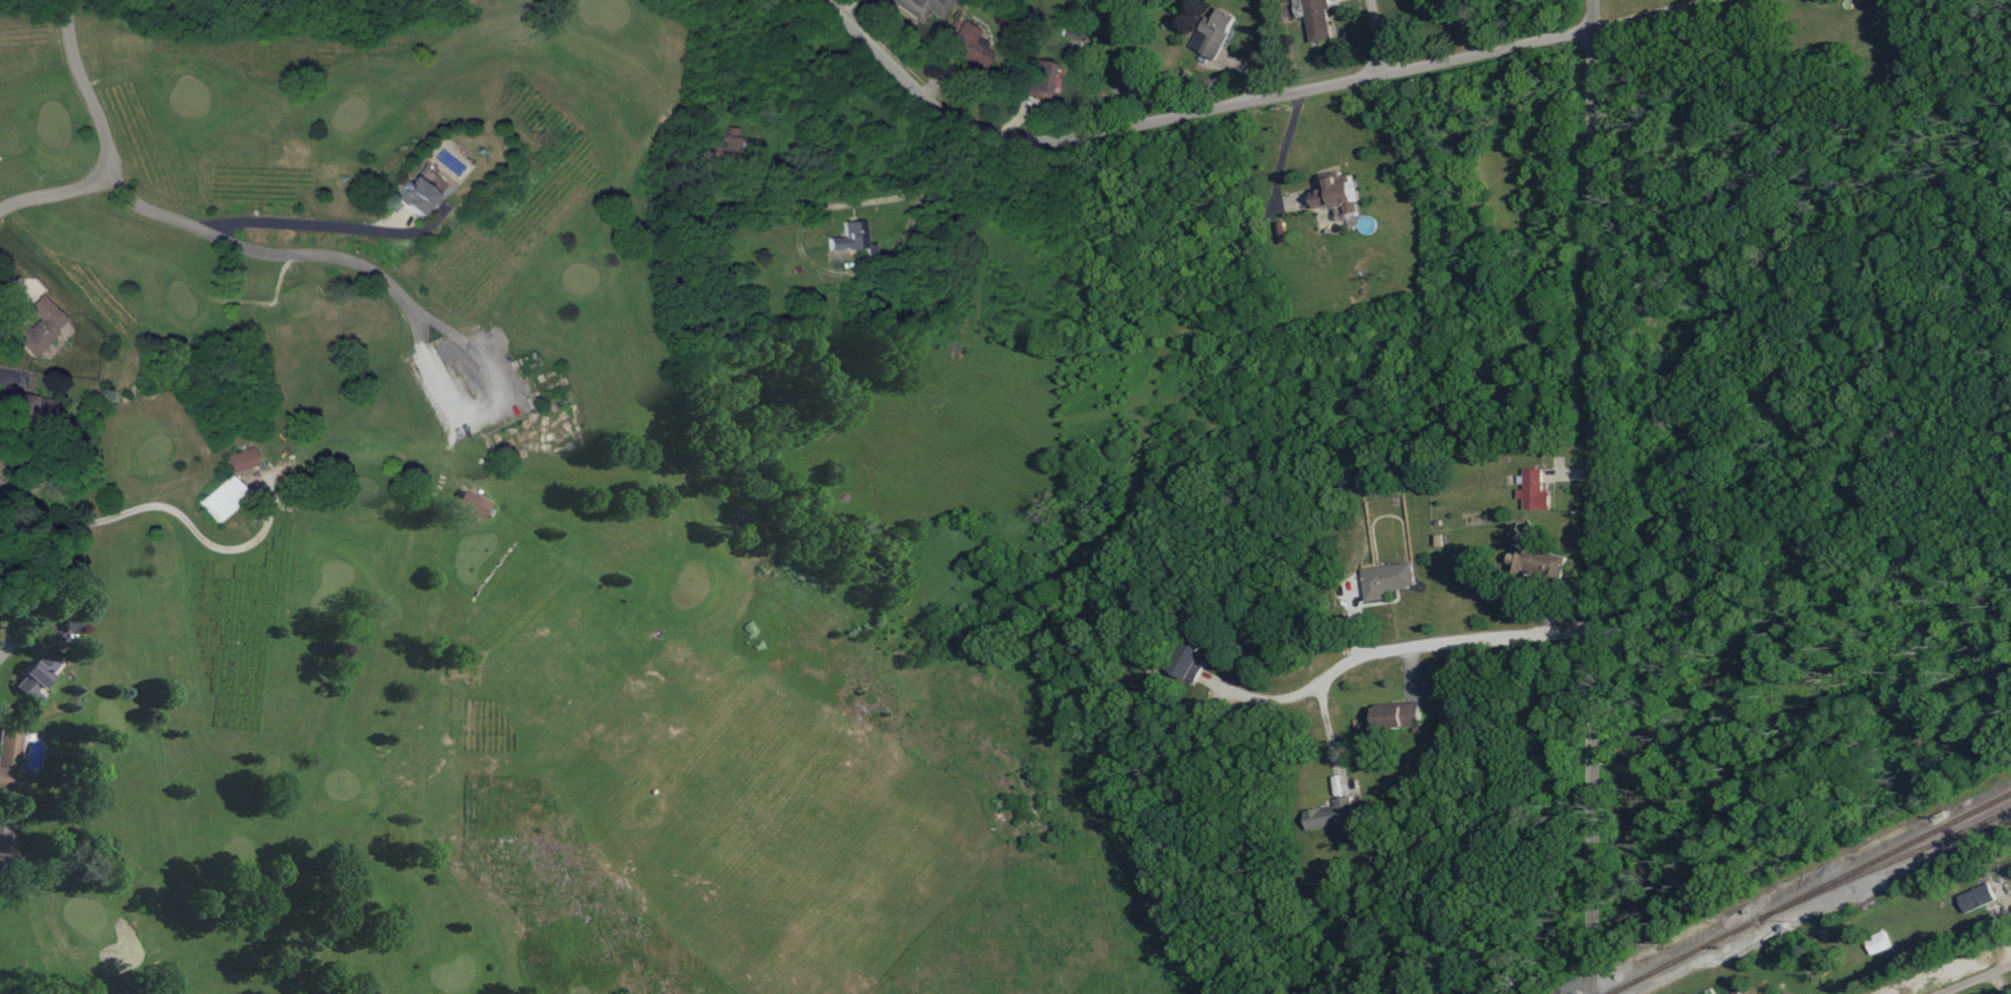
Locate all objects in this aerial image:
building: (422, 0)
road: (1614, 4)
building: (921, 7)
road: (1905, 17)
building: (1318, 20)
road: (1380, 29)
building: (1212, 33)
building: (1070, 34)
building: (966, 45)
building: (1038, 78)
road: (1205, 95)
road: (107, 140)
building: (719, 143)
road: (1285, 146)
road: (843, 189)
building: (1336, 192)
building: (418, 198)
road: (306, 225)
building: (846, 237)
road: (263, 253)
building: (36, 331)
road: (494, 371)
parking lot: (472, 382)
building: (28, 407)
building: (242, 458)
building: (1534, 491)
road: (1592, 496)
building: (222, 499)
building: (475, 504)
road: (187, 519)
building: (1537, 563)
road: (56, 567)
building: (1386, 580)
road: (1389, 646)
building: (1192, 661)
building: (38, 678)
building: (1397, 717)
road: (1329, 737)
building: (11, 759)
building: (1333, 816)
building: (5, 837)
railway: (1875, 867)
railway: (1808, 893)
building: (1977, 897)
building: (1878, 942)
road: (1978, 980)
road: (1997, 983)

